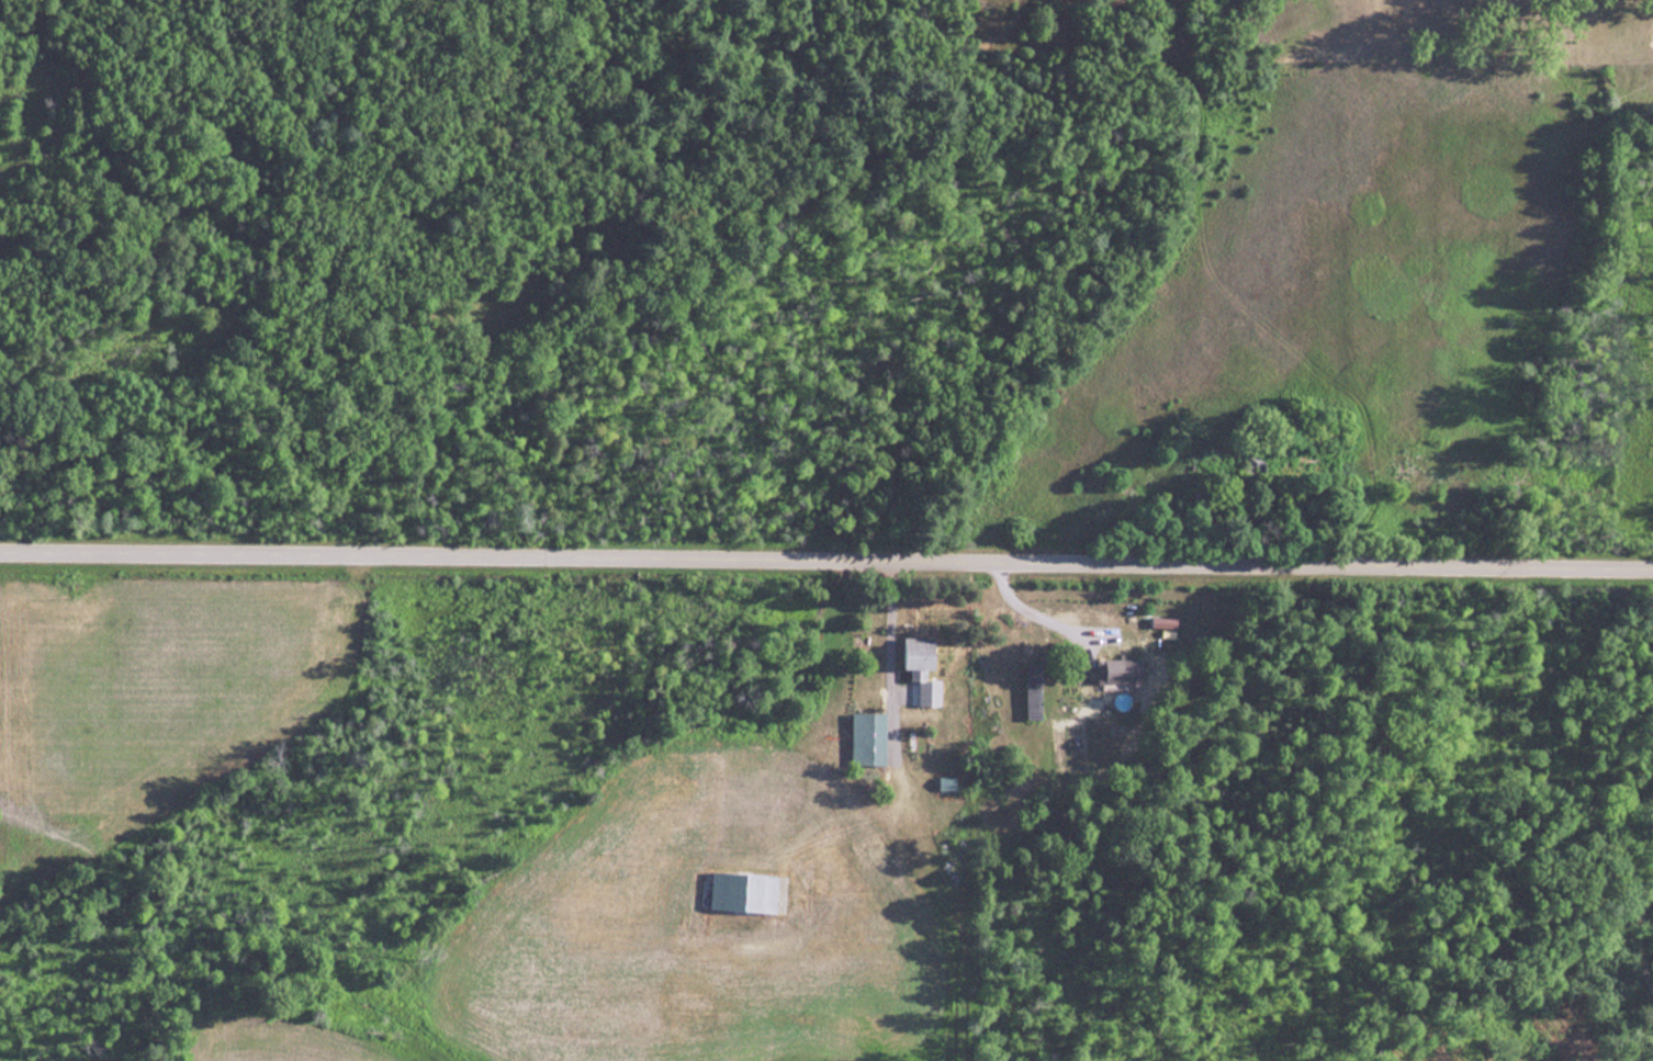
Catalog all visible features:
road: (826, 569)
building: (921, 659)
road: (889, 674)
building: (1034, 692)
building: (868, 738)
building: (745, 892)

